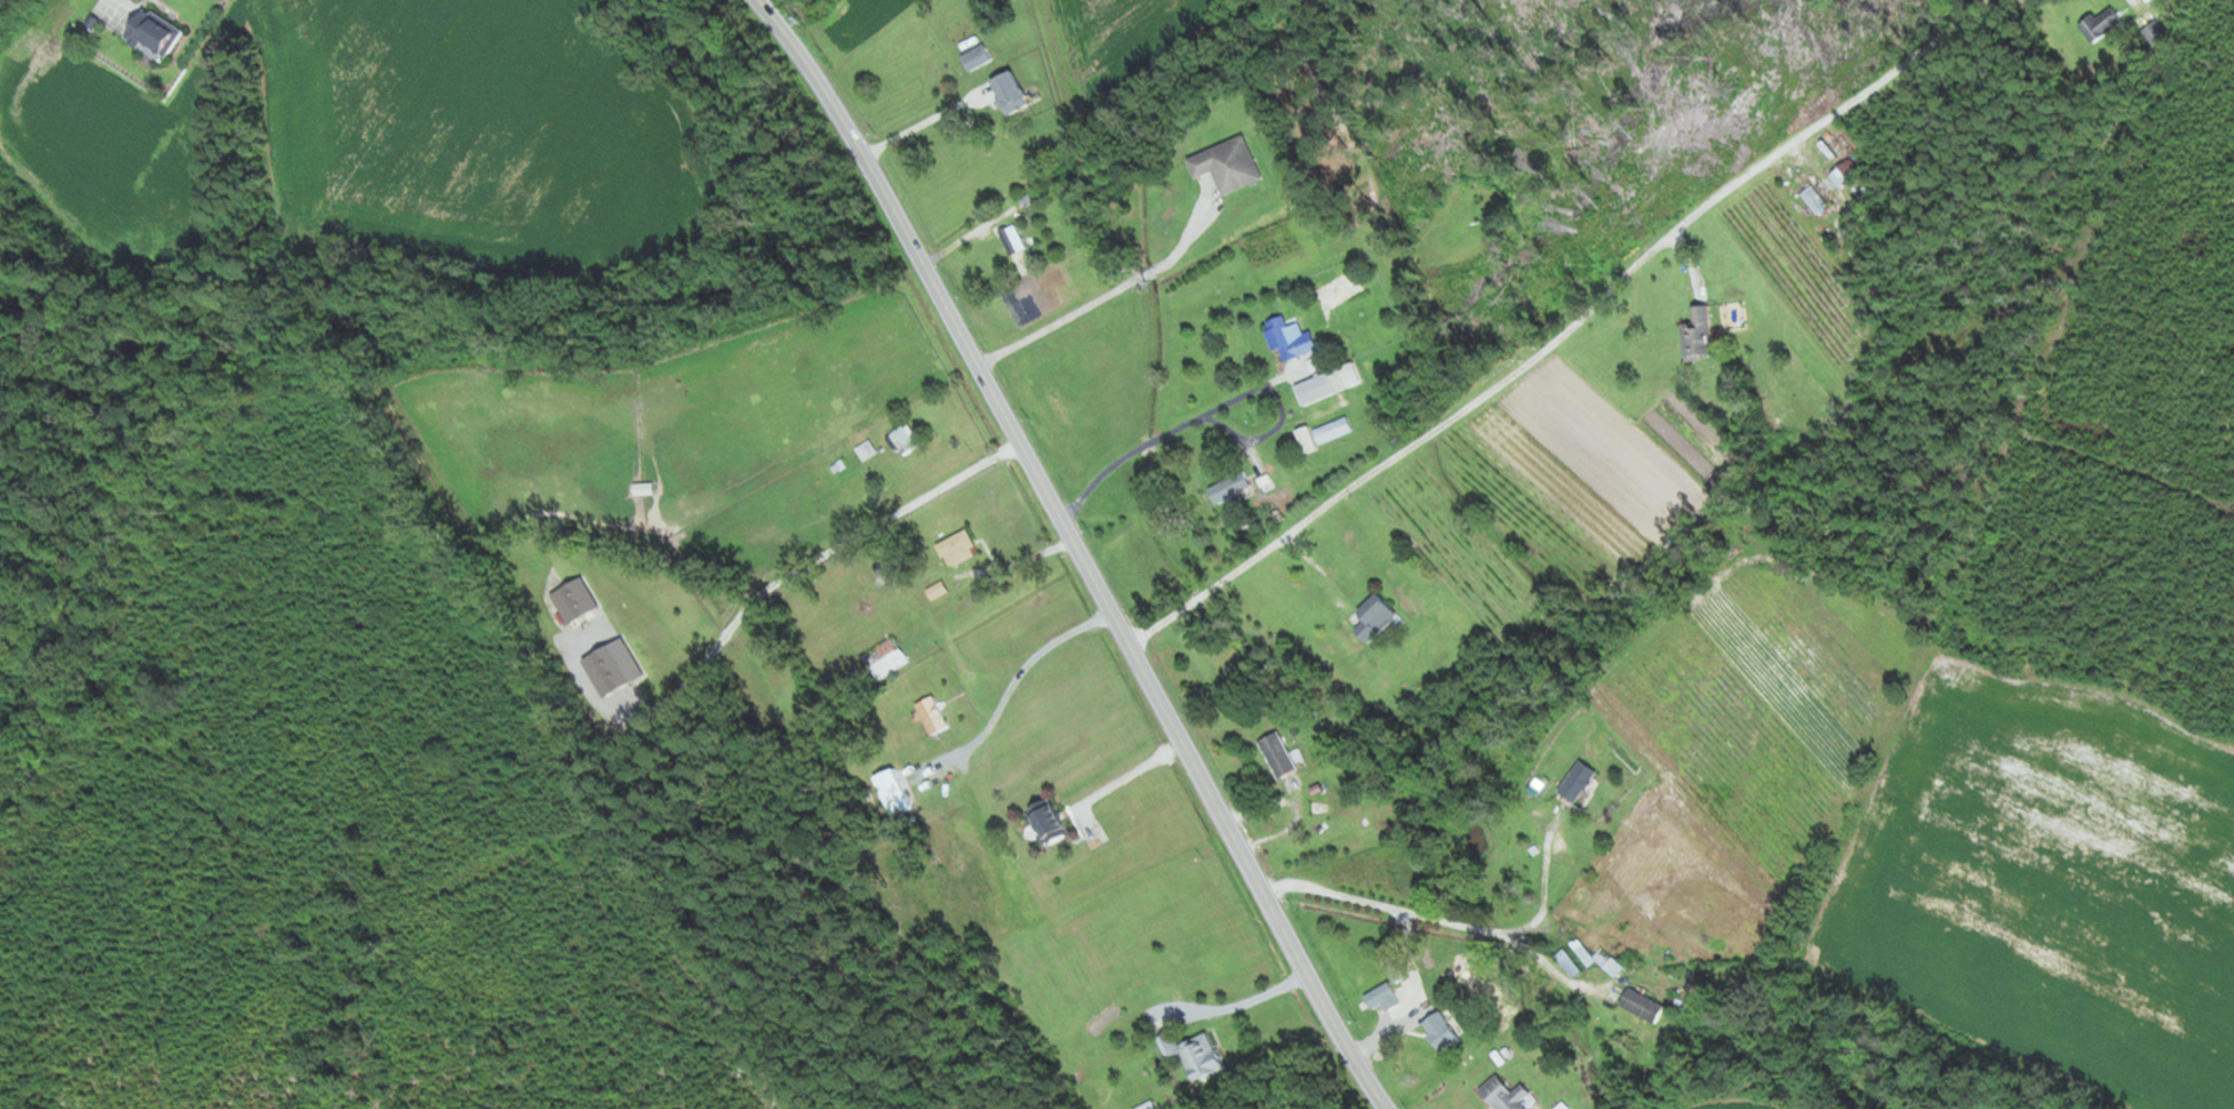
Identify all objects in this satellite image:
building: (2103, 22)
building: (2155, 31)
building: (153, 34)
building: (977, 55)
building: (1012, 90)
building: (1840, 175)
building: (1813, 198)
road: (1567, 332)
building: (1699, 333)
building: (1291, 337)
building: (1350, 373)
building: (1316, 388)
building: (1334, 428)
road: (1170, 431)
road: (1261, 435)
building: (905, 439)
building: (867, 449)
building: (1232, 485)
building: (958, 547)
road: (1082, 550)
building: (1377, 616)
building: (885, 656)
building: (934, 713)
building: (1279, 753)
building: (1580, 780)
building: (895, 791)
building: (1049, 821)
building: (1589, 956)
building: (1395, 966)
building: (1385, 995)
building: (1644, 1002)
building: (1441, 1028)
building: (1195, 1051)
building: (1504, 1092)

